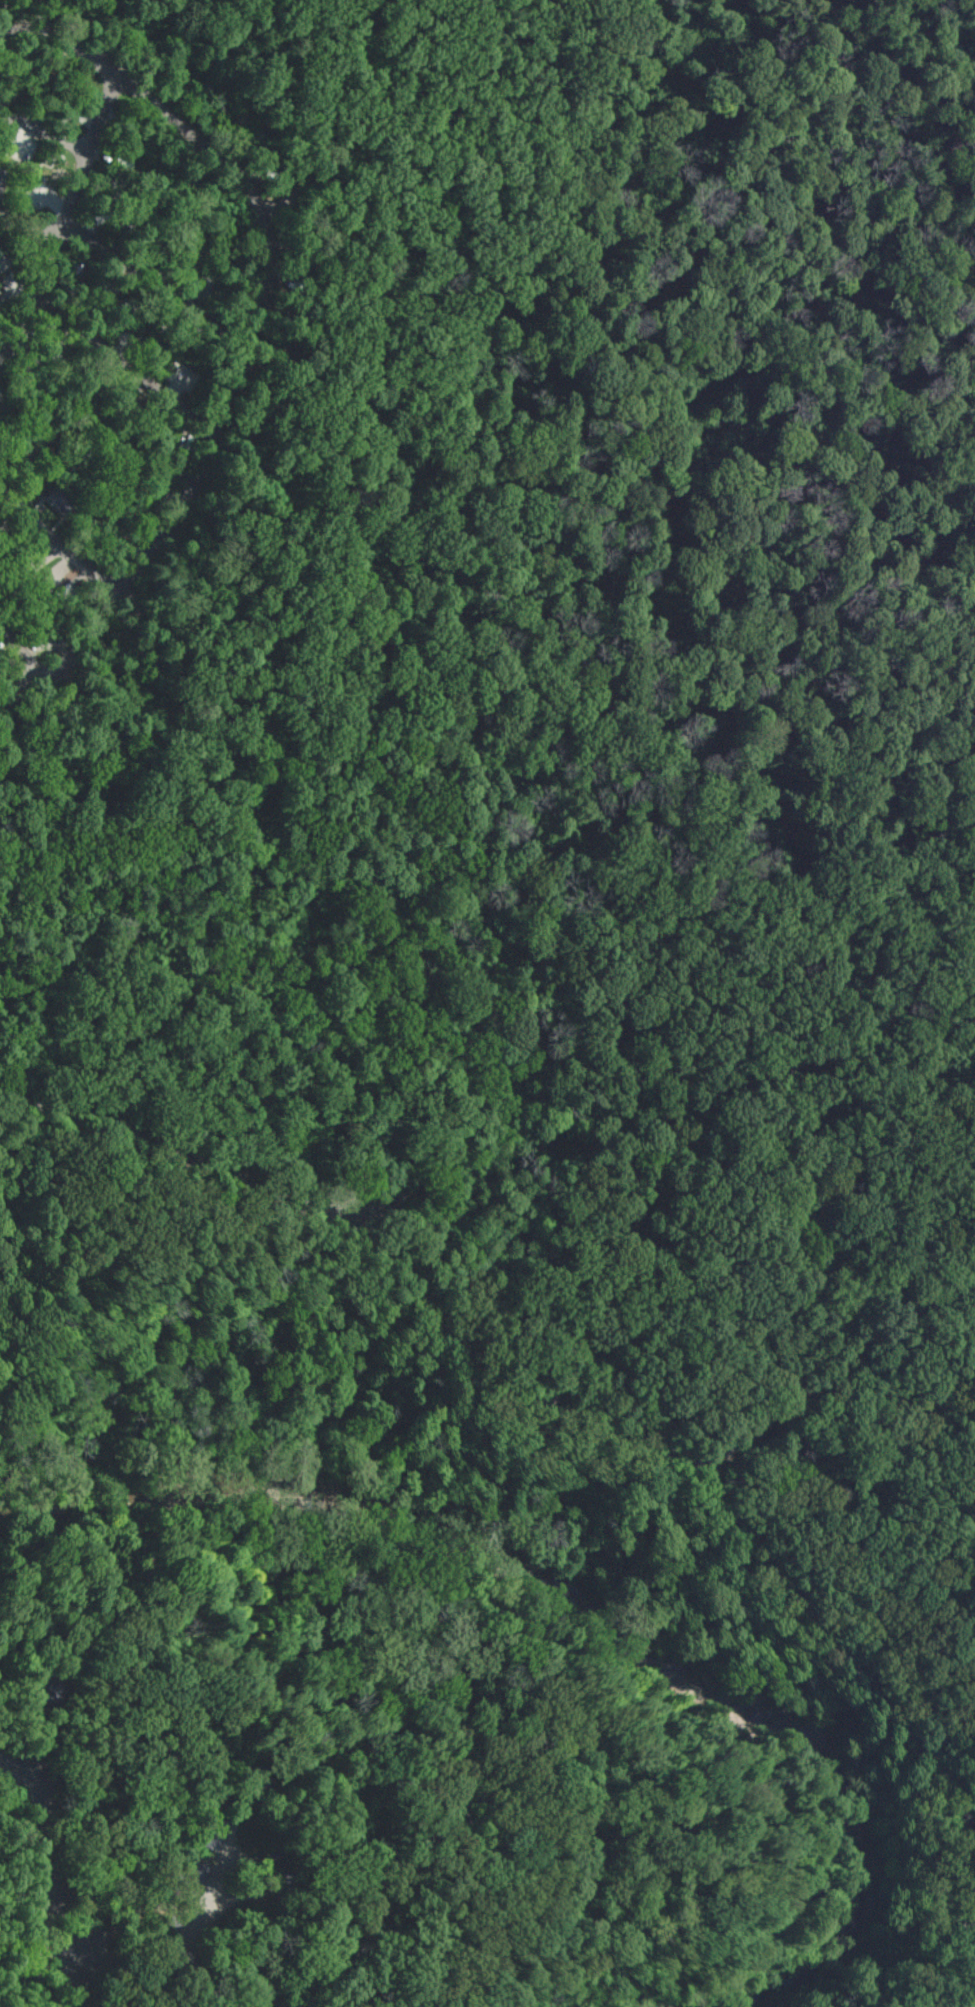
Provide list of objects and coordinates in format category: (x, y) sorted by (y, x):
road: (25, 17)
road: (0, 61)
road: (44, 133)
road: (559, 170)
building: (1, 177)
road: (66, 224)
road: (31, 231)
road: (155, 283)
road: (248, 333)
road: (125, 364)
road: (776, 416)
road: (886, 417)
building: (61, 498)
road: (59, 545)
road: (491, 580)
road: (862, 675)
road: (578, 907)
road: (119, 972)
parking lot: (364, 1206)
road: (358, 1218)
road: (313, 1252)
parking lot: (960, 1282)
road: (826, 1365)
road: (610, 1414)
road: (156, 1473)
building: (49, 1686)
road: (713, 1708)
road: (625, 1774)
building: (252, 1779)
road: (128, 1817)
building: (212, 1834)
road: (41, 1876)
building: (188, 1883)
building: (283, 1886)
road: (120, 1905)
road: (199, 1914)
building: (172, 1924)
building: (184, 1963)
road: (635, 2003)

